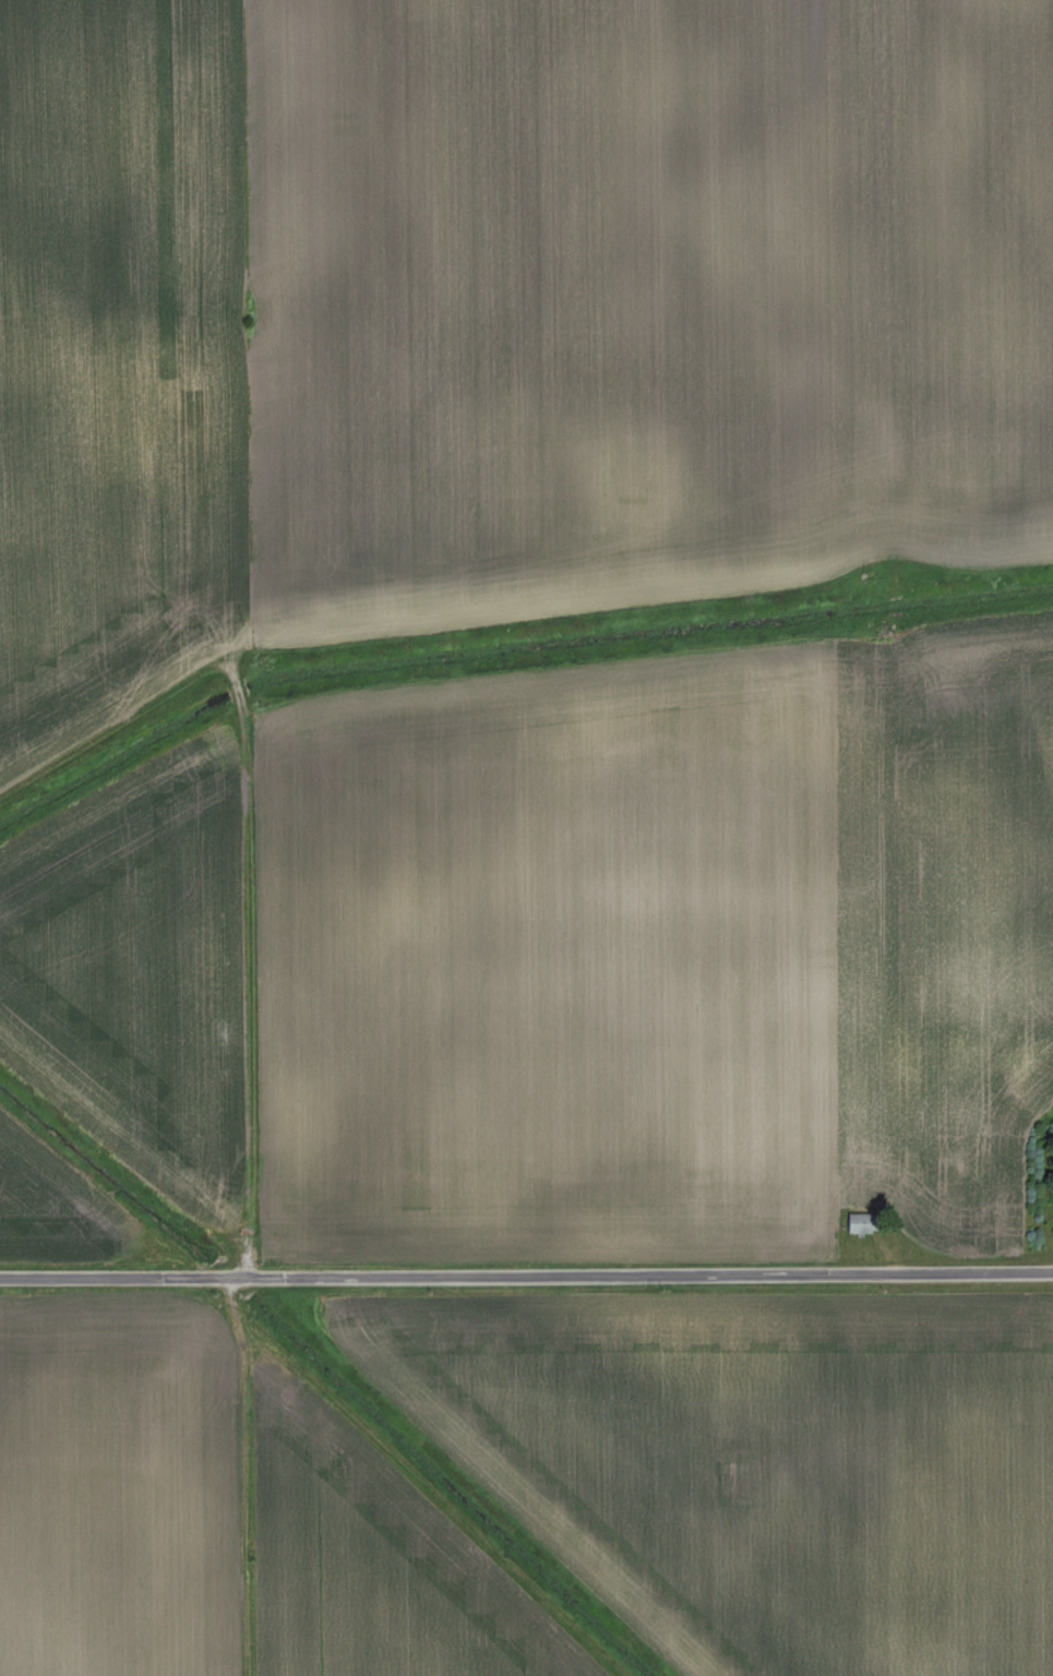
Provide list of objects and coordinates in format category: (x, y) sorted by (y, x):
road: (526, 1272)

